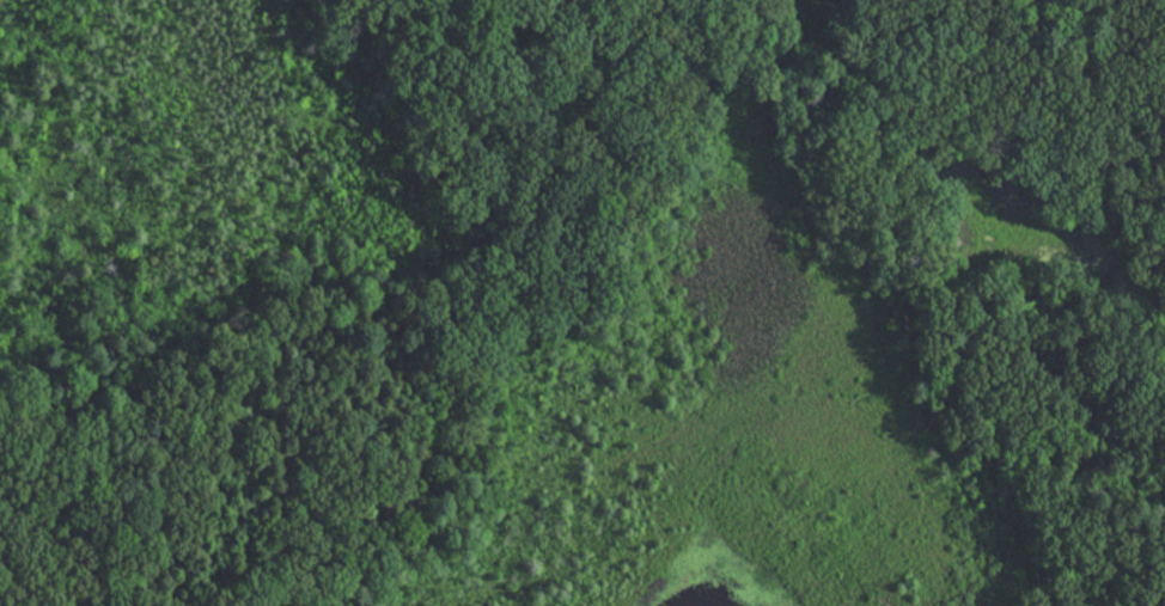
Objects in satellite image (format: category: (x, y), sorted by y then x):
road: (919, 278)
park: (582, 302)

